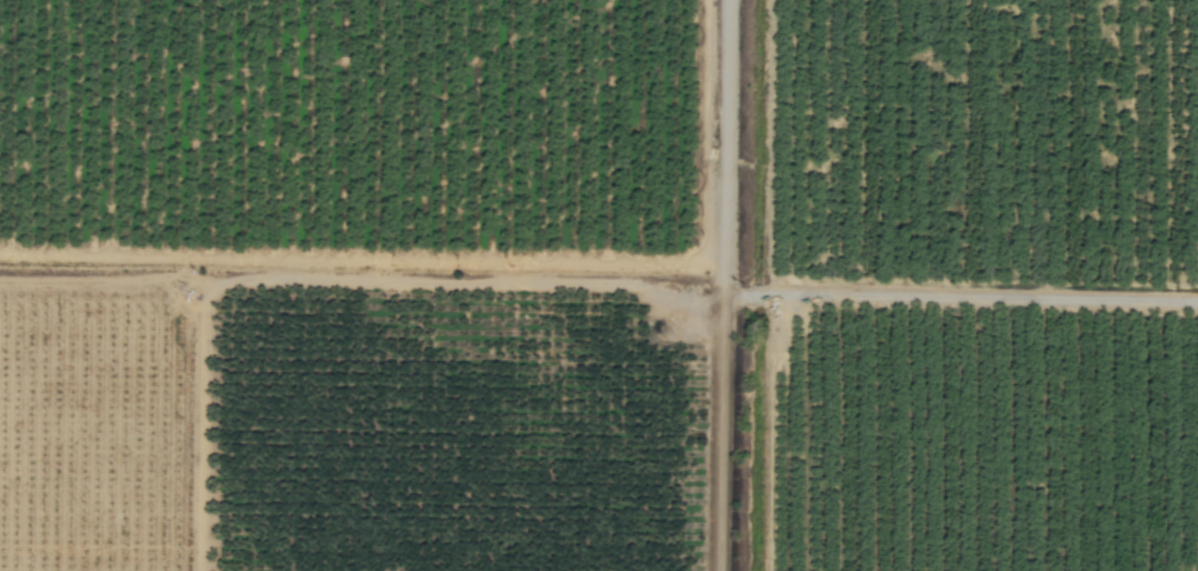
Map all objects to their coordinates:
road: (727, 285)
road: (962, 297)

